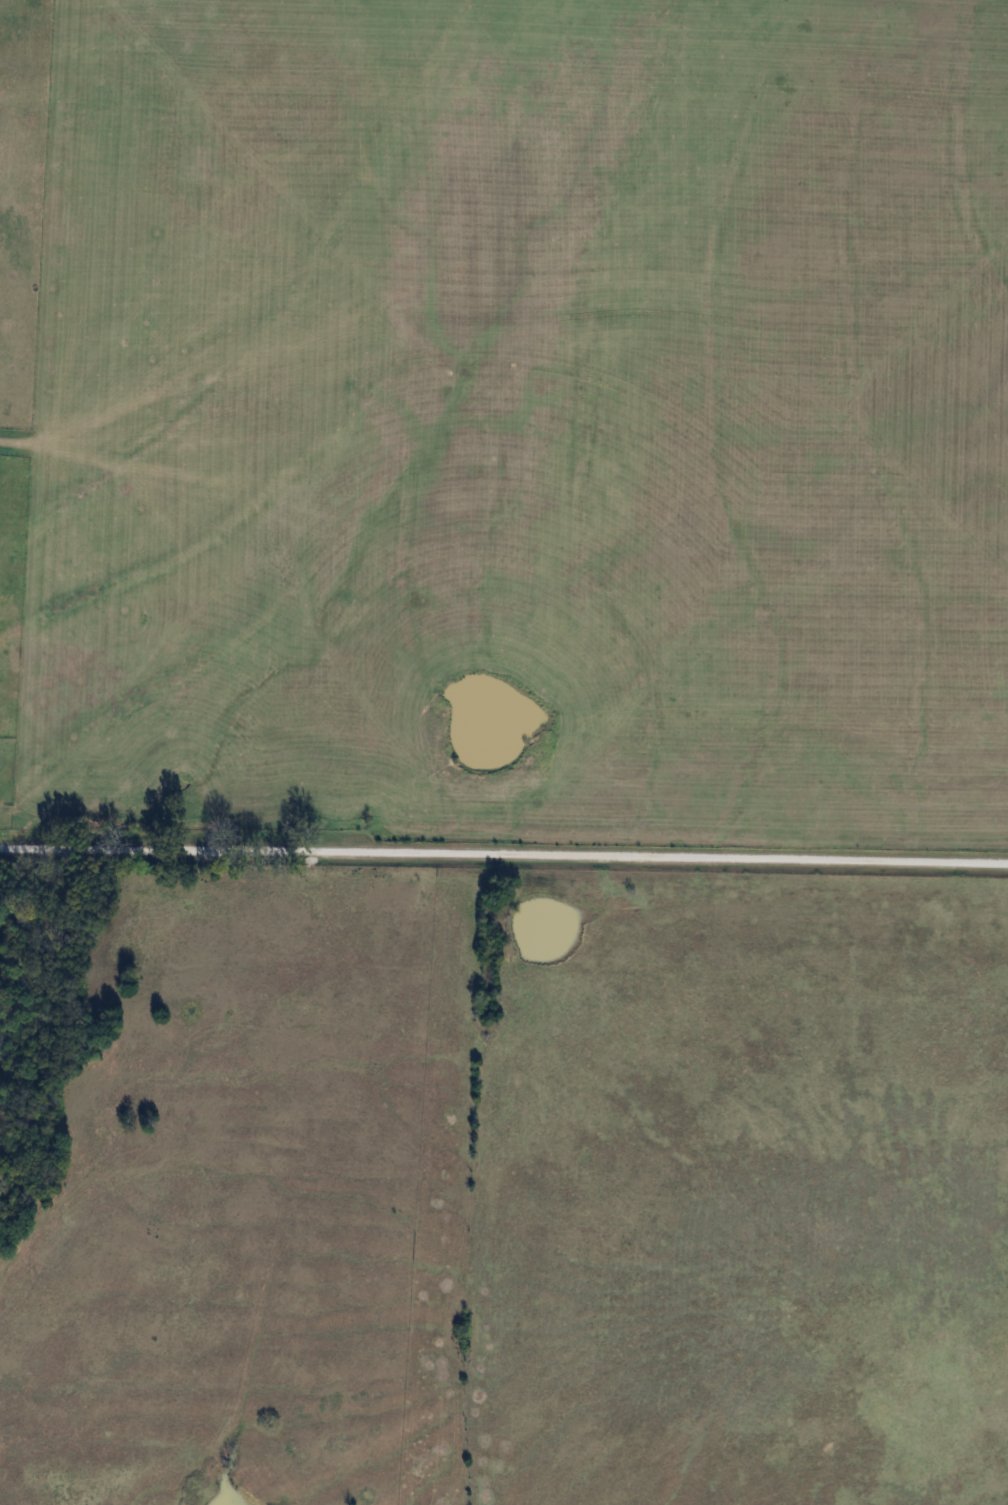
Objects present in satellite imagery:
road: (504, 855)

